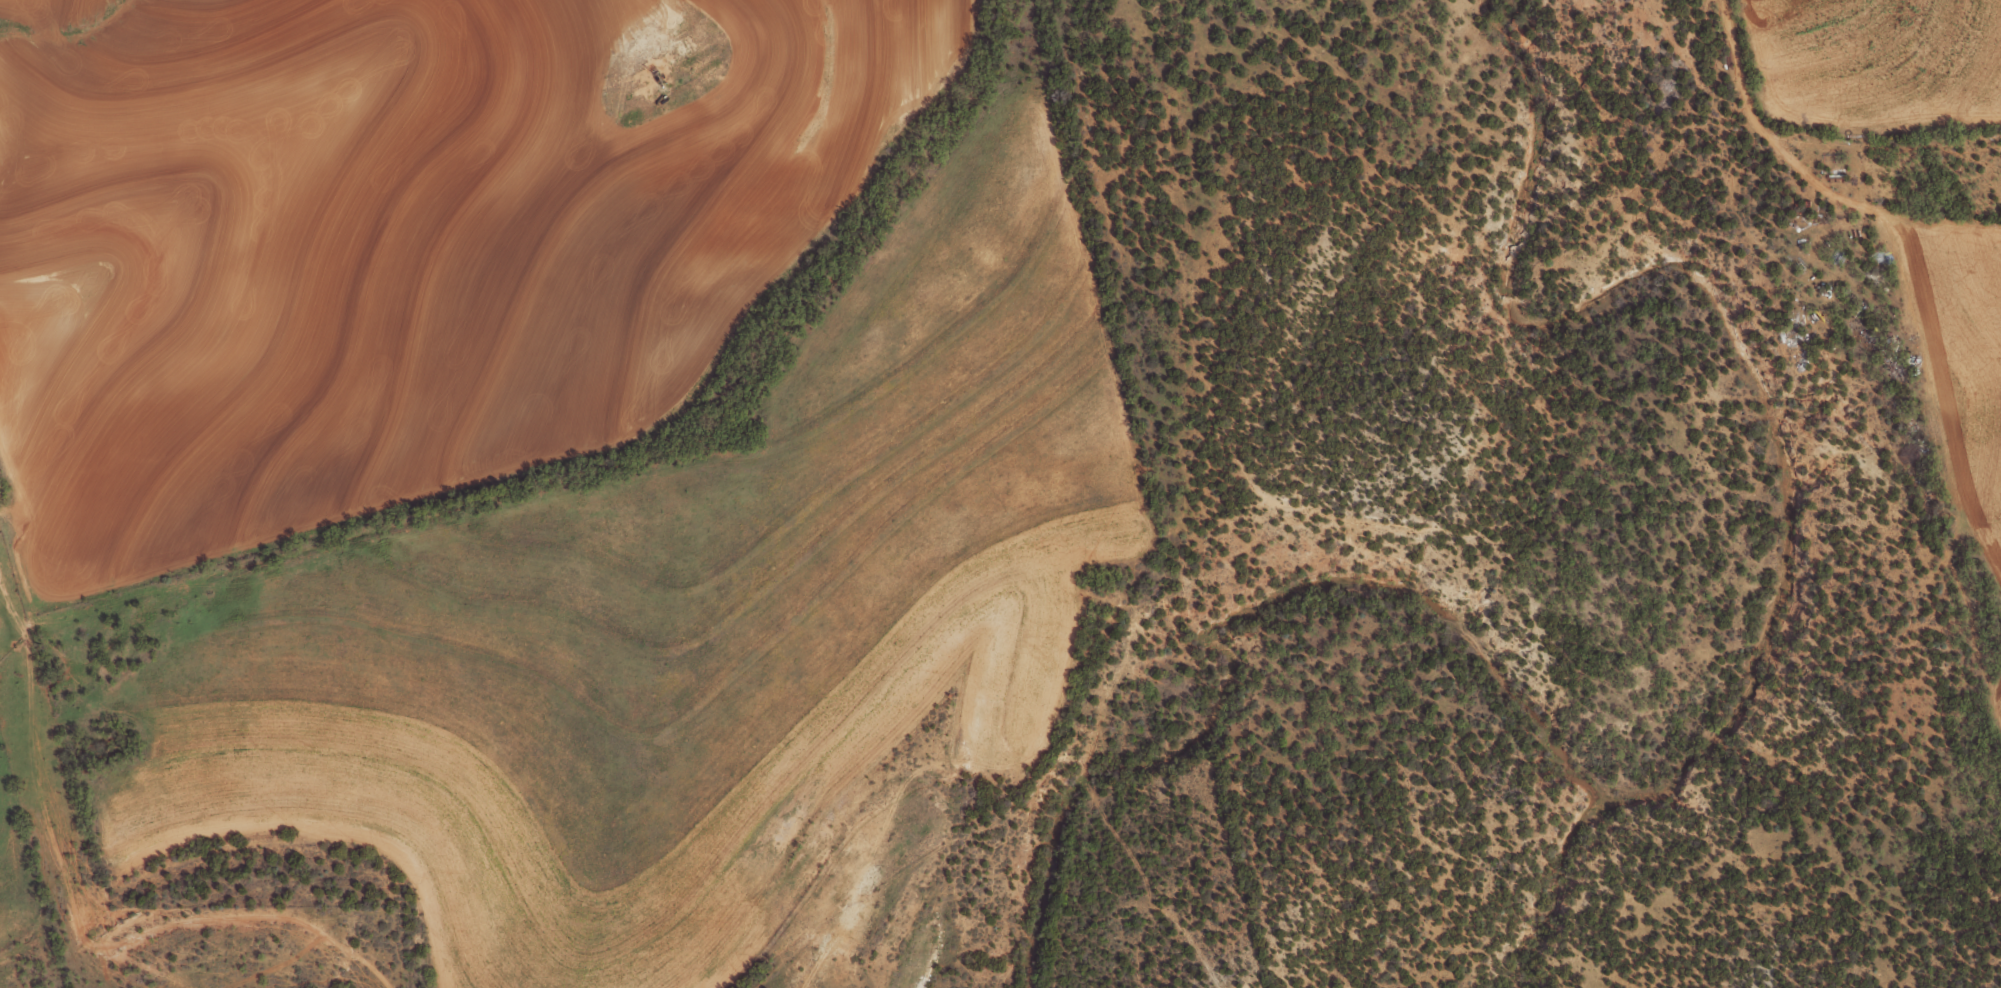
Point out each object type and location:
road: (172, 878)

